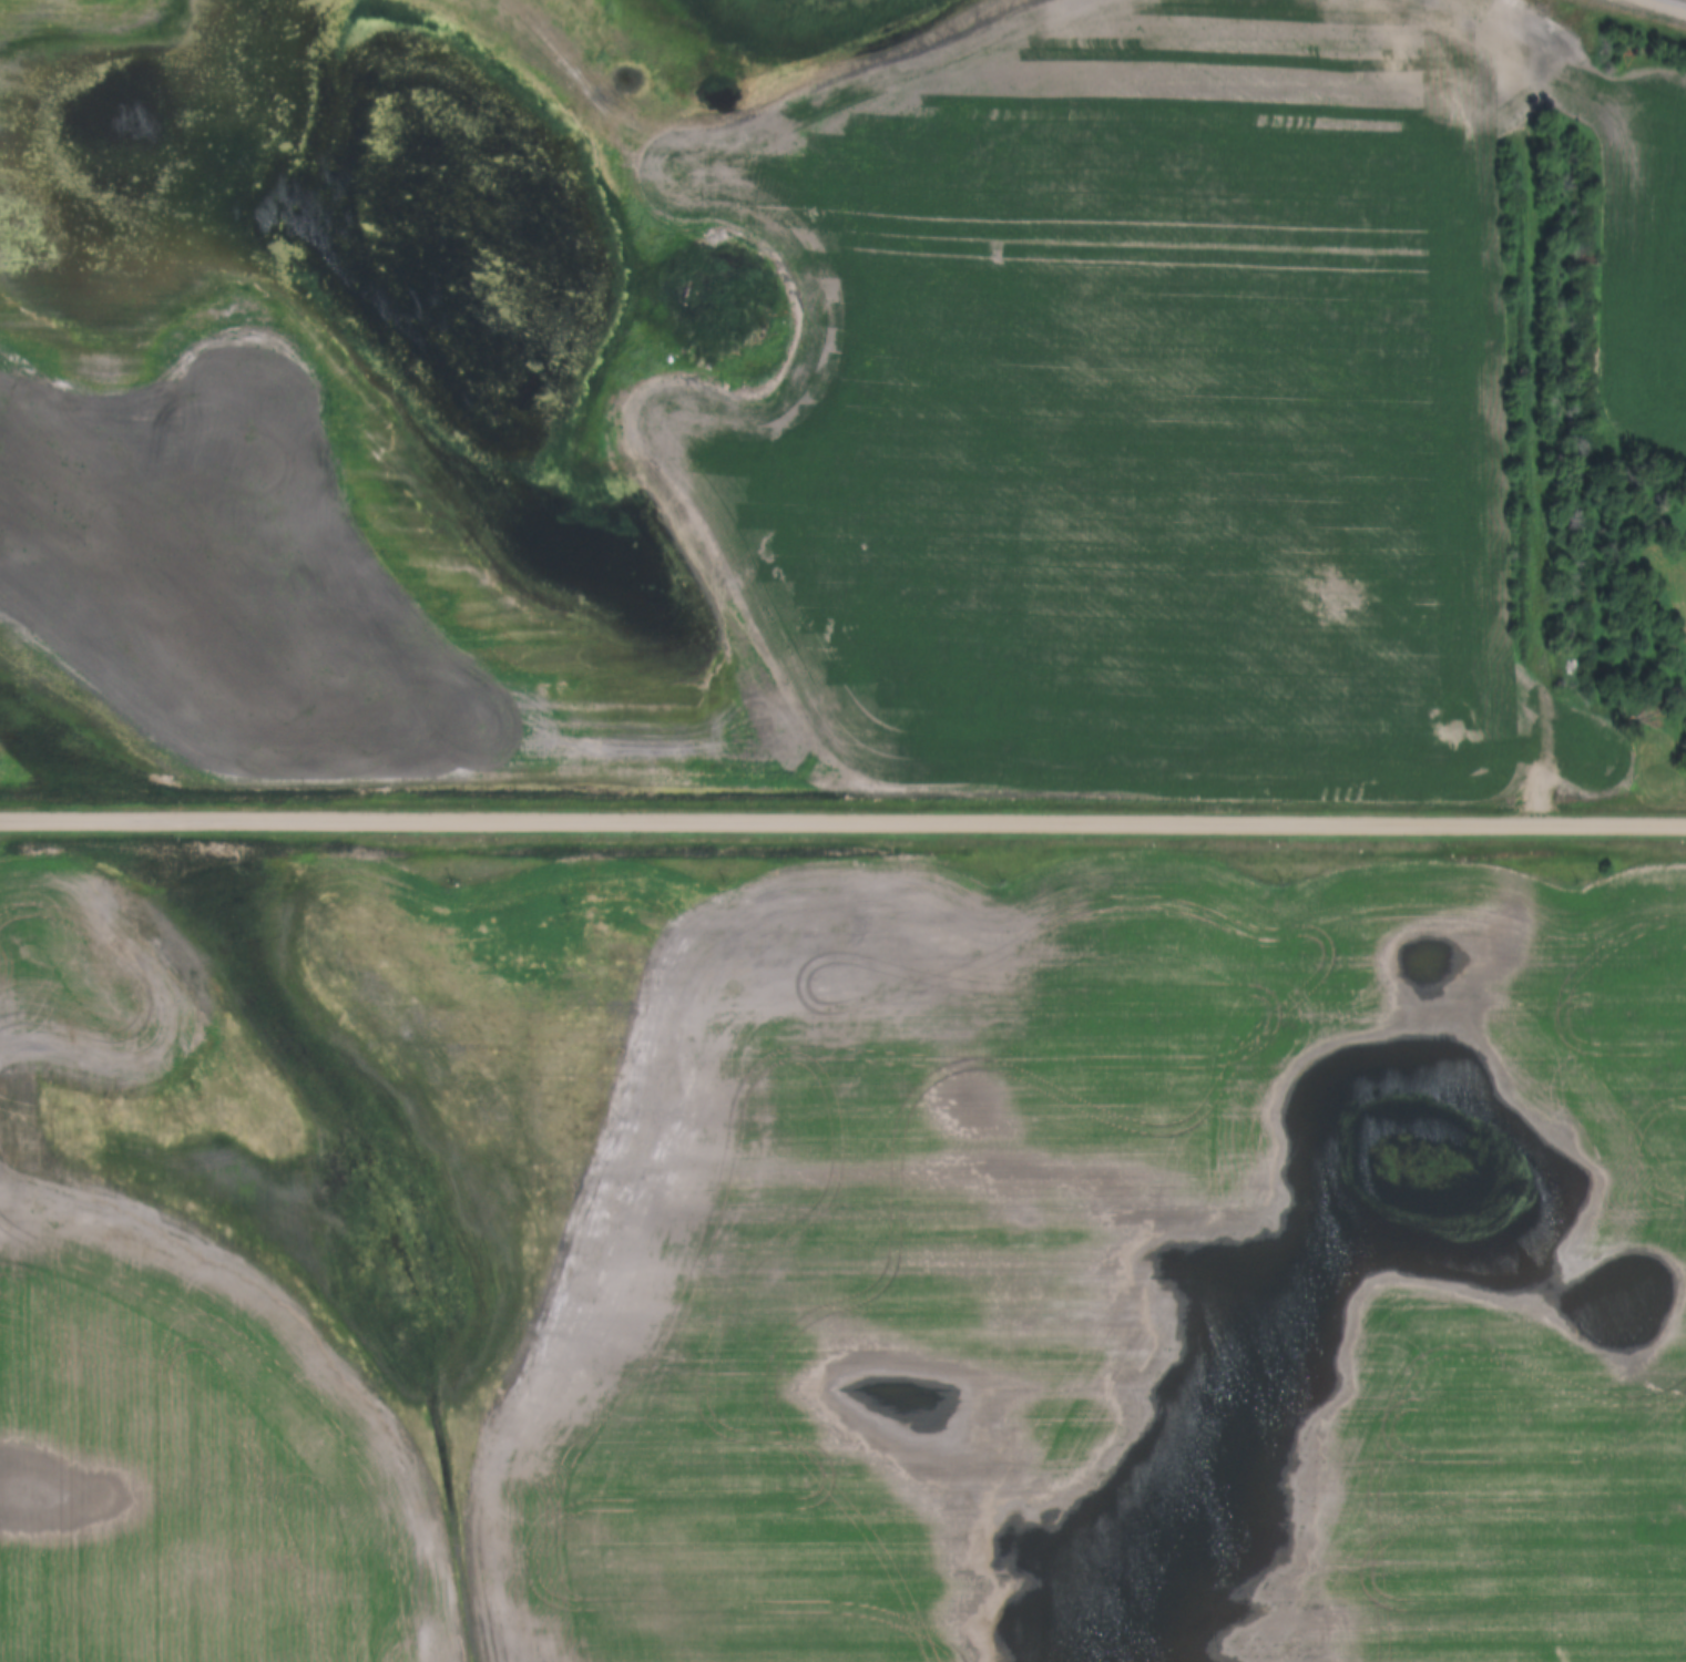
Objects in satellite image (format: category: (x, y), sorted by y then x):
railway: (1682, 0)
road: (842, 822)

